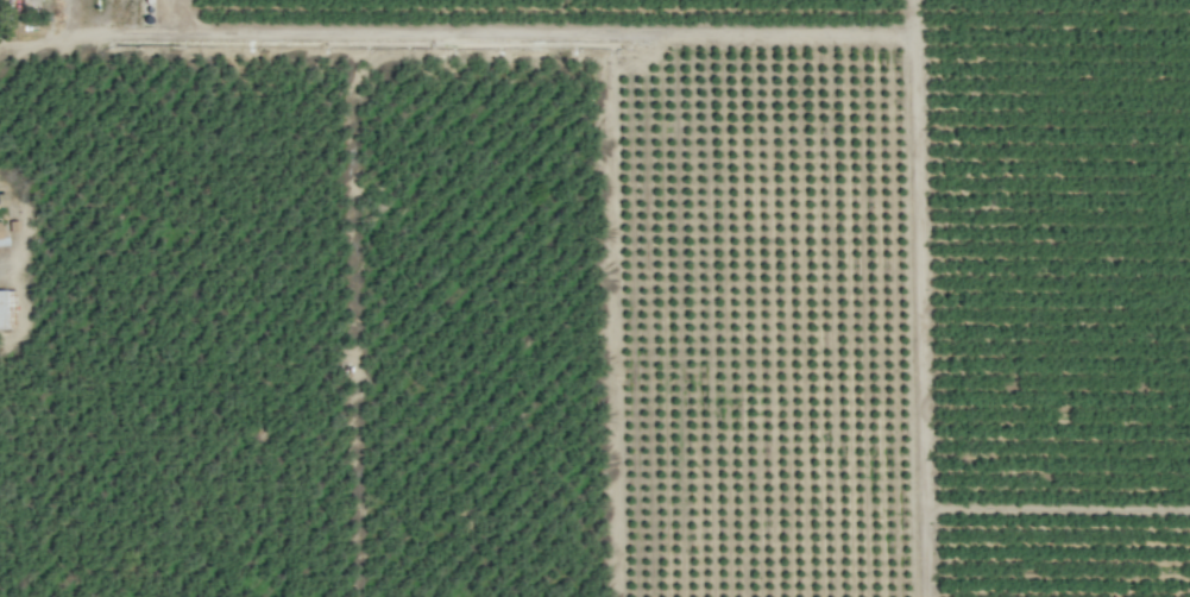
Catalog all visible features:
building: (1, 234)
railway: (411, 298)
building: (5, 307)

